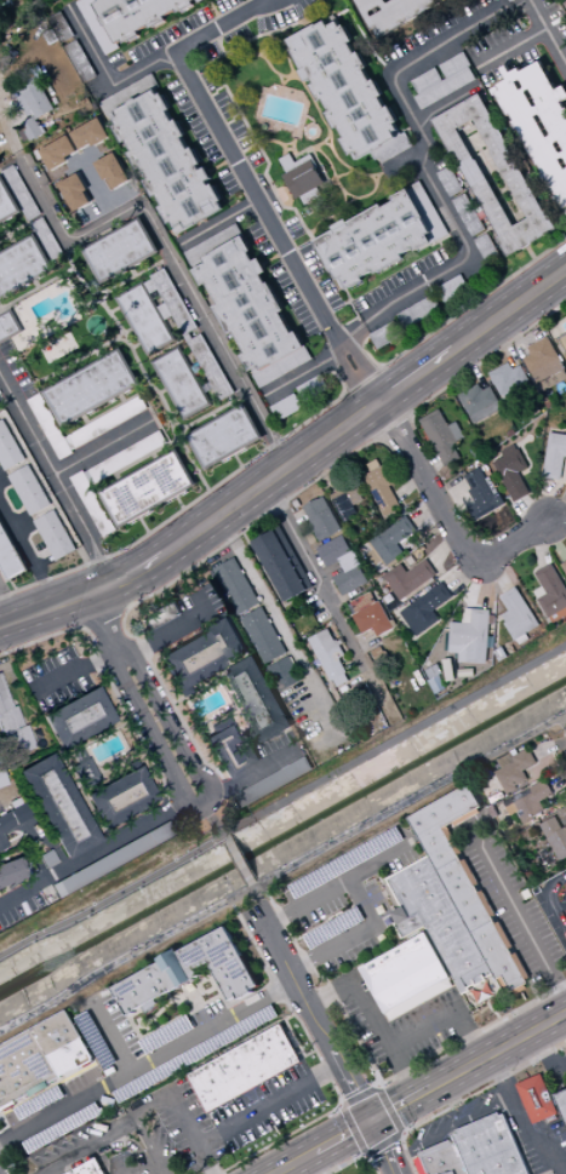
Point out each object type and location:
road: (276, 0)
building: (450, 0)
building: (204, 1)
road: (359, 7)
park: (17, 12)
road: (216, 12)
building: (395, 12)
building: (138, 15)
building: (98, 25)
building: (62, 27)
road: (547, 33)
road: (271, 36)
road: (510, 48)
building: (81, 62)
road: (155, 63)
road: (274, 70)
road: (293, 74)
road: (281, 80)
road: (288, 80)
building: (442, 80)
building: (350, 92)
building: (130, 93)
building: (36, 102)
building: (87, 103)
road: (447, 103)
building: (114, 116)
building: (541, 119)
building: (97, 120)
building: (32, 130)
road: (10, 131)
building: (88, 136)
road: (264, 142)
road: (327, 144)
road: (259, 148)
building: (63, 150)
road: (285, 150)
building: (168, 161)
building: (296, 162)
road: (423, 162)
road: (10, 164)
building: (80, 164)
building: (112, 171)
road: (47, 174)
road: (343, 174)
road: (368, 174)
road: (372, 178)
building: (304, 179)
building: (451, 182)
road: (253, 189)
road: (288, 189)
building: (524, 190)
road: (343, 191)
building: (22, 193)
building: (74, 193)
road: (287, 194)
building: (311, 196)
road: (345, 199)
building: (7, 202)
road: (344, 206)
road: (81, 208)
building: (429, 211)
building: (469, 216)
road: (324, 218)
road: (219, 222)
road: (18, 228)
building: (179, 230)
road: (4, 233)
road: (8, 235)
road: (548, 237)
building: (47, 239)
road: (5, 240)
road: (88, 241)
building: (377, 241)
building: (213, 245)
building: (488, 248)
building: (121, 251)
road: (170, 254)
road: (531, 254)
building: (200, 264)
building: (23, 267)
road: (73, 268)
road: (132, 273)
road: (138, 274)
road: (38, 285)
building: (453, 288)
road: (36, 290)
road: (98, 292)
road: (92, 296)
road: (103, 297)
road: (97, 302)
road: (87, 303)
building: (250, 305)
road: (1, 308)
road: (509, 308)
building: (165, 311)
building: (419, 311)
building: (145, 319)
building: (8, 326)
road: (128, 331)
road: (350, 332)
road: (120, 333)
road: (514, 334)
building: (385, 336)
building: (188, 337)
road: (337, 338)
road: (122, 339)
building: (564, 340)
road: (504, 343)
road: (136, 345)
road: (368, 355)
road: (330, 357)
road: (482, 360)
building: (545, 363)
road: (473, 366)
road: (64, 367)
building: (281, 368)
road: (367, 370)
road: (417, 374)
road: (153, 377)
road: (339, 378)
road: (290, 380)
road: (351, 380)
building: (509, 382)
building: (181, 383)
building: (92, 388)
building: (313, 388)
road: (162, 391)
road: (159, 395)
road: (122, 400)
building: (480, 403)
road: (116, 406)
building: (287, 407)
road: (173, 413)
road: (208, 414)
road: (411, 414)
road: (213, 417)
building: (109, 422)
road: (395, 423)
road: (178, 424)
building: (51, 426)
road: (291, 433)
building: (225, 436)
building: (444, 436)
road: (382, 437)
building: (72, 442)
road: (104, 447)
building: (8, 448)
building: (554, 456)
building: (128, 457)
road: (154, 457)
road: (143, 458)
road: (428, 460)
road: (239, 462)
road: (320, 469)
building: (514, 471)
building: (91, 477)
road: (273, 477)
road: (57, 479)
road: (428, 482)
road: (410, 485)
building: (383, 486)
building: (149, 488)
building: (29, 489)
road: (453, 494)
building: (484, 494)
building: (348, 497)
road: (549, 499)
road: (181, 503)
building: (93, 504)
road: (425, 510)
road: (558, 510)
road: (528, 514)
road: (297, 519)
building: (322, 519)
road: (558, 522)
road: (144, 526)
building: (56, 534)
road: (515, 539)
road: (554, 539)
building: (389, 544)
road: (541, 546)
road: (442, 548)
building: (10, 555)
road: (28, 555)
road: (257, 555)
road: (261, 561)
building: (284, 563)
building: (343, 565)
building: (564, 565)
road: (263, 568)
road: (137, 571)
road: (330, 573)
road: (499, 573)
road: (465, 574)
road: (316, 578)
building: (410, 578)
road: (274, 584)
road: (486, 584)
building: (236, 586)
road: (158, 590)
road: (278, 590)
building: (551, 592)
road: (264, 595)
road: (8, 606)
road: (55, 607)
building: (427, 609)
road: (116, 612)
building: (371, 614)
road: (98, 615)
building: (161, 615)
building: (520, 615)
road: (99, 620)
road: (82, 625)
road: (177, 629)
building: (471, 630)
building: (264, 636)
road: (365, 641)
building: (330, 653)
building: (201, 655)
road: (73, 669)
building: (285, 674)
road: (116, 700)
road: (175, 700)
building: (257, 700)
building: (78, 718)
road: (561, 722)
building: (12, 726)
road: (562, 735)
building: (230, 754)
road: (122, 762)
building: (516, 771)
building: (84, 773)
road: (255, 774)
building: (1, 779)
building: (275, 781)
building: (121, 797)
building: (532, 802)
road: (199, 804)
building: (58, 806)
road: (213, 820)
building: (5, 821)
building: (556, 836)
road: (19, 837)
road: (46, 840)
building: (1, 842)
road: (88, 852)
building: (46, 859)
building: (112, 859)
road: (241, 860)
building: (11, 871)
road: (281, 871)
road: (556, 882)
building: (469, 884)
road: (384, 886)
road: (114, 895)
road: (258, 897)
road: (308, 903)
road: (558, 904)
road: (367, 909)
road: (516, 911)
road: (341, 912)
road: (385, 922)
building: (444, 929)
building: (190, 973)
building: (410, 977)
road: (200, 1008)
road: (187, 1014)
road: (447, 1014)
road: (315, 1015)
road: (373, 1020)
building: (59, 1033)
road: (113, 1038)
road: (498, 1053)
road: (308, 1054)
road: (318, 1054)
road: (548, 1055)
road: (148, 1063)
building: (245, 1069)
building: (24, 1070)
road: (76, 1073)
road: (381, 1078)
road: (365, 1094)
building: (538, 1098)
road: (464, 1099)
building: (562, 1101)
road: (269, 1104)
road: (343, 1104)
road: (402, 1106)
road: (391, 1109)
road: (183, 1115)
road: (525, 1126)
road: (356, 1128)
road: (452, 1129)
road: (401, 1135)
road: (113, 1136)
road: (345, 1138)
road: (383, 1142)
building: (492, 1146)
road: (384, 1147)
parking lot: (545, 1147)
road: (107, 1149)
road: (368, 1155)
road: (355, 1158)
building: (445, 1158)
road: (7, 1159)
road: (298, 1163)
building: (90, 1168)
road: (148, 1170)
road: (156, 1170)
building: (365, 1173)

